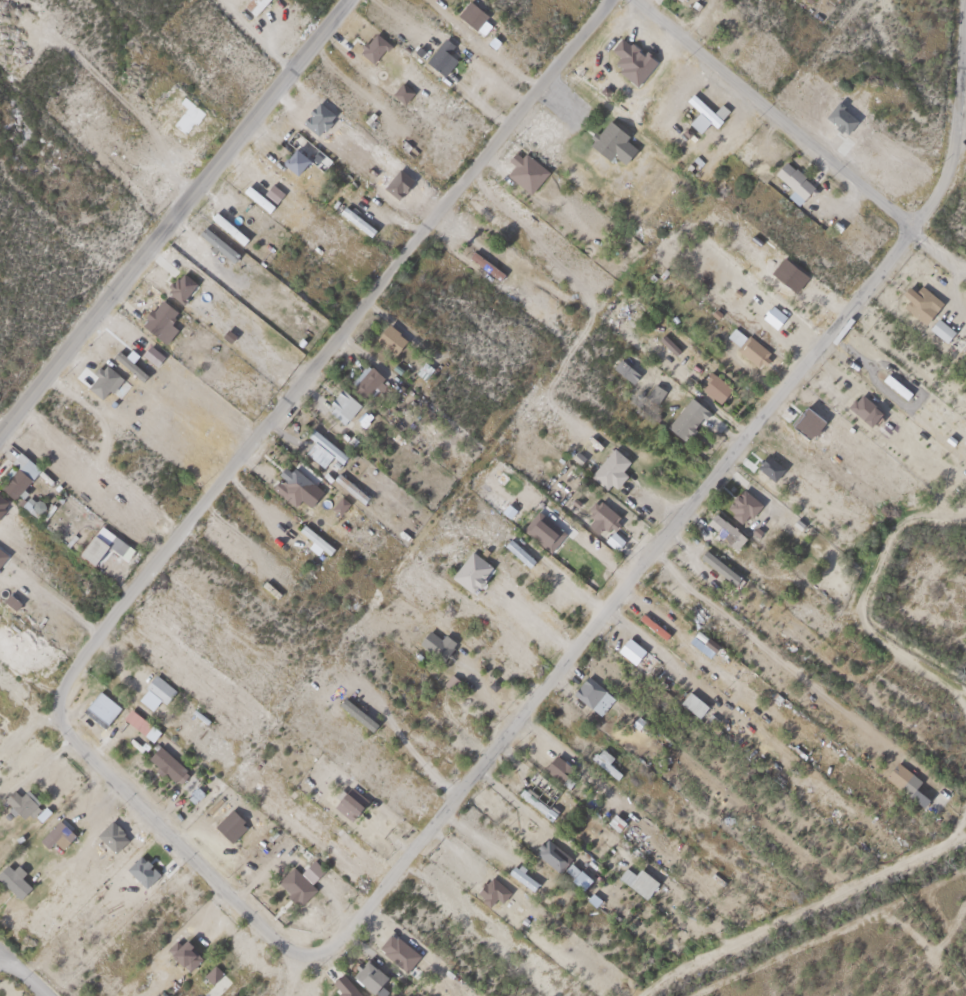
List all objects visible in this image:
building: (251, 4)
building: (471, 12)
building: (371, 43)
building: (439, 53)
building: (628, 57)
building: (705, 106)
road: (778, 112)
building: (609, 138)
building: (292, 157)
building: (522, 167)
building: (791, 175)
road: (173, 217)
building: (354, 217)
road: (940, 245)
building: (482, 261)
building: (918, 299)
building: (630, 306)
building: (771, 312)
building: (157, 317)
building: (938, 326)
building: (388, 335)
building: (751, 348)
road: (330, 349)
building: (125, 361)
building: (623, 367)
building: (102, 375)
building: (362, 377)
building: (893, 382)
building: (712, 383)
building: (339, 402)
building: (862, 405)
building: (685, 414)
building: (319, 444)
building: (43, 452)
building: (609, 465)
building: (18, 473)
building: (289, 481)
building: (347, 484)
road: (692, 501)
building: (338, 502)
building: (739, 503)
building: (599, 513)
building: (540, 527)
building: (722, 527)
building: (312, 535)
building: (610, 536)
building: (517, 549)
building: (716, 563)
building: (695, 612)
building: (440, 643)
building: (634, 651)
building: (157, 685)
building: (590, 691)
building: (703, 713)
building: (603, 759)
building: (166, 763)
building: (554, 763)
building: (899, 774)
building: (347, 798)
building: (19, 799)
building: (534, 799)
building: (54, 833)
road: (176, 841)
building: (554, 858)
building: (520, 874)
building: (293, 882)
building: (488, 887)
building: (395, 947)
building: (184, 951)
road: (2, 959)
building: (367, 973)
road: (22, 974)
building: (209, 979)

